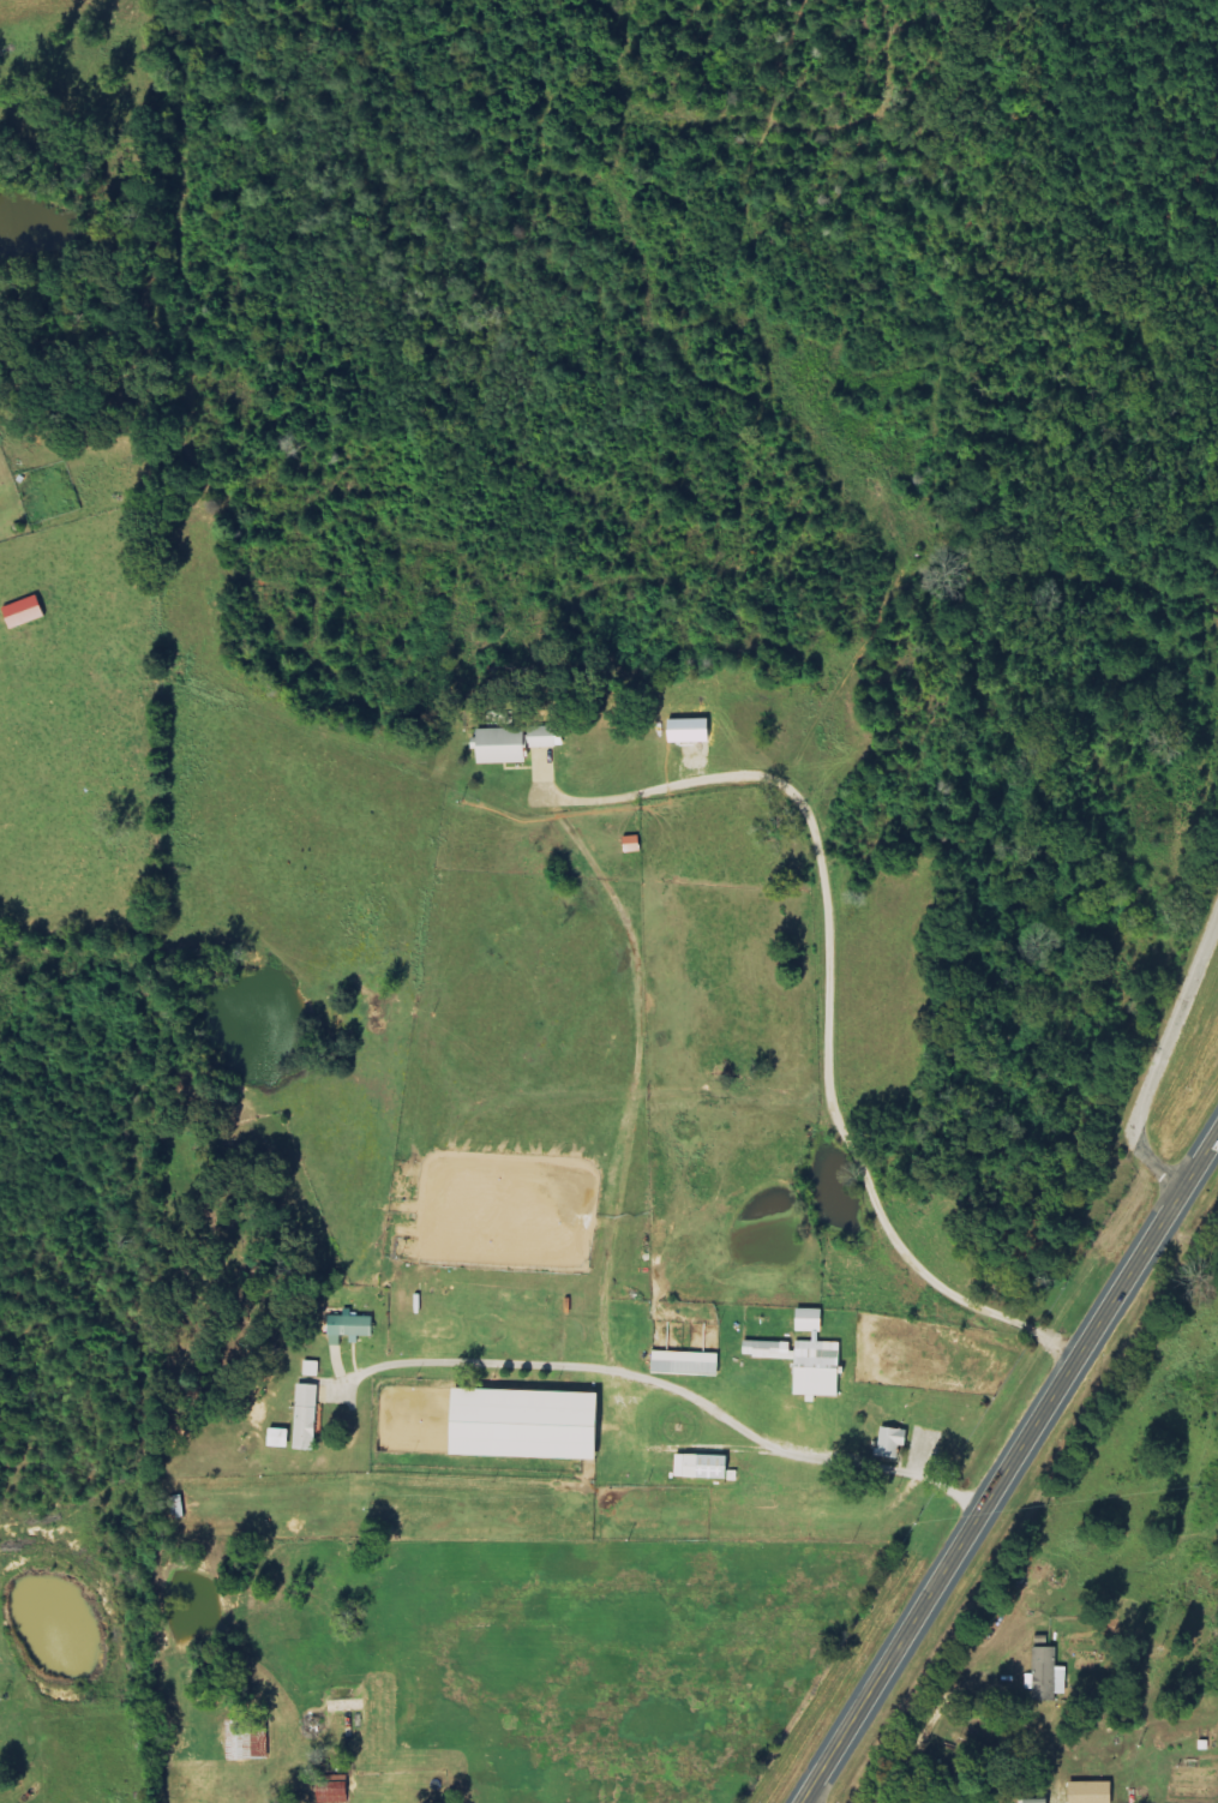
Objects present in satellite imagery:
building: (28, 612)
building: (539, 736)
building: (496, 744)
road: (1160, 1056)
road: (742, 1058)
road: (798, 1136)
road: (400, 1239)
building: (805, 1319)
building: (354, 1324)
building: (764, 1349)
building: (683, 1362)
building: (313, 1367)
building: (812, 1367)
road: (672, 1386)
building: (310, 1416)
building: (517, 1424)
building: (283, 1437)
building: (887, 1442)
building: (698, 1466)
road: (1007, 1468)
building: (1043, 1672)
building: (336, 1791)
building: (1086, 1792)
building: (1032, 1801)

